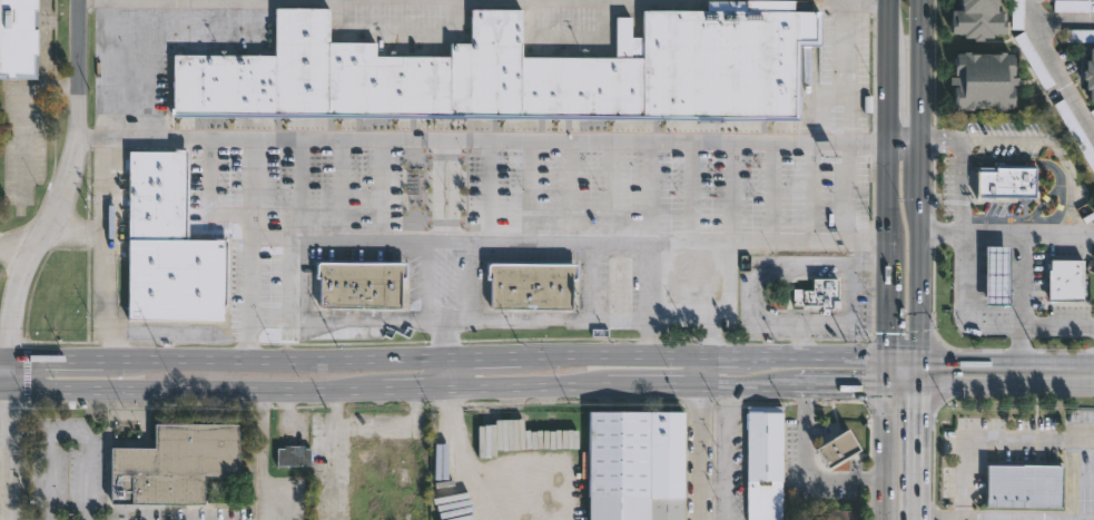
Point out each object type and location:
building: (976, 17)
road: (1062, 21)
building: (19, 40)
building: (726, 60)
building: (1036, 61)
road: (148, 67)
road: (1055, 67)
parking lot: (130, 68)
building: (1090, 71)
building: (411, 76)
building: (982, 79)
park: (24, 111)
road: (845, 118)
road: (78, 119)
road: (56, 120)
road: (550, 139)
road: (904, 141)
road: (108, 148)
building: (1005, 181)
road: (958, 185)
road: (257, 186)
parking lot: (314, 186)
road: (341, 186)
road: (300, 187)
road: (382, 187)
road: (437, 187)
road: (453, 187)
road: (489, 188)
road: (530, 189)
road: (569, 189)
parking lot: (670, 189)
road: (1070, 189)
road: (610, 190)
road: (651, 190)
road: (731, 190)
road: (773, 190)
road: (812, 190)
road: (691, 192)
building: (949, 209)
road: (1082, 233)
road: (440, 237)
road: (21, 238)
building: (169, 245)
road: (852, 248)
road: (874, 258)
road: (854, 259)
road: (889, 259)
road: (919, 259)
building: (973, 267)
road: (1021, 275)
building: (995, 276)
building: (1065, 279)
road: (595, 281)
building: (363, 283)
building: (534, 284)
parking lot: (263, 286)
building: (694, 288)
gas station: (694, 288)
building: (818, 292)
building: (623, 294)
road: (107, 296)
road: (444, 296)
road: (252, 297)
road: (651, 298)
road: (730, 303)
road: (757, 316)
road: (428, 318)
road: (681, 318)
road: (975, 318)
road: (1058, 322)
traffic signals: (889, 332)
road: (802, 337)
road: (459, 355)
traffic signals: (942, 369)
road: (996, 369)
road: (445, 370)
road: (1085, 370)
road: (10, 372)
road: (901, 376)
road: (391, 384)
road: (835, 384)
traffic signals: (861, 384)
traffic signals: (916, 410)
road: (69, 435)
road: (701, 436)
road: (1027, 438)
building: (840, 449)
road: (263, 453)
building: (294, 454)
road: (457, 455)
building: (767, 462)
building: (175, 464)
building: (635, 464)
parking lot: (69, 468)
road: (806, 471)
road: (960, 471)
building: (1025, 487)
road: (960, 509)
building: (800, 513)
building: (840, 514)
road: (938, 516)
road: (1024, 516)

